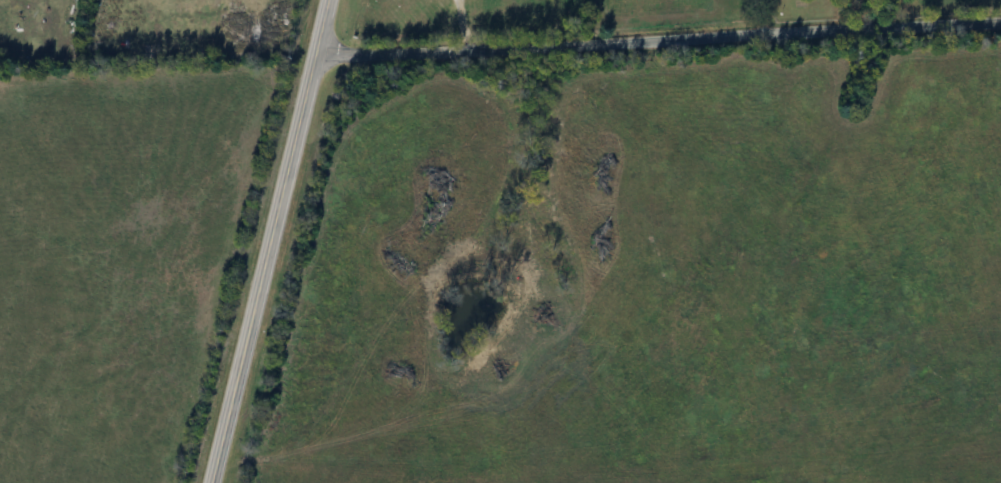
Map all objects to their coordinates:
road: (462, 25)
road: (658, 41)
road: (267, 241)

